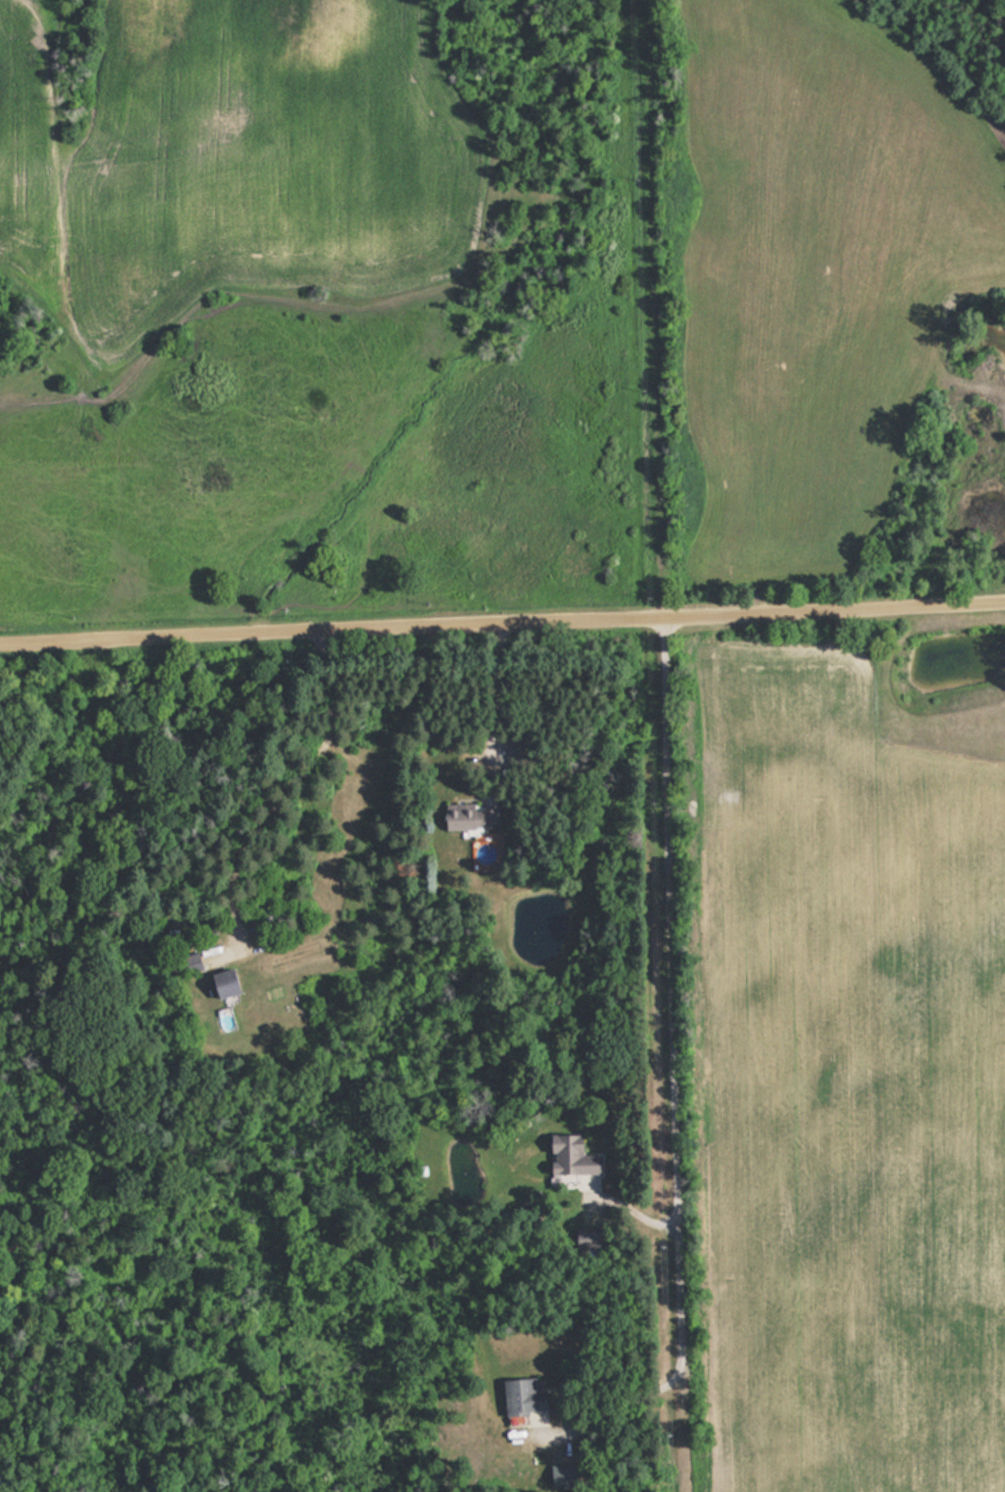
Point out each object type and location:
road: (502, 616)
road: (646, 745)
road: (553, 786)
building: (470, 816)
building: (190, 962)
building: (222, 982)
building: (569, 1157)
building: (521, 1396)

